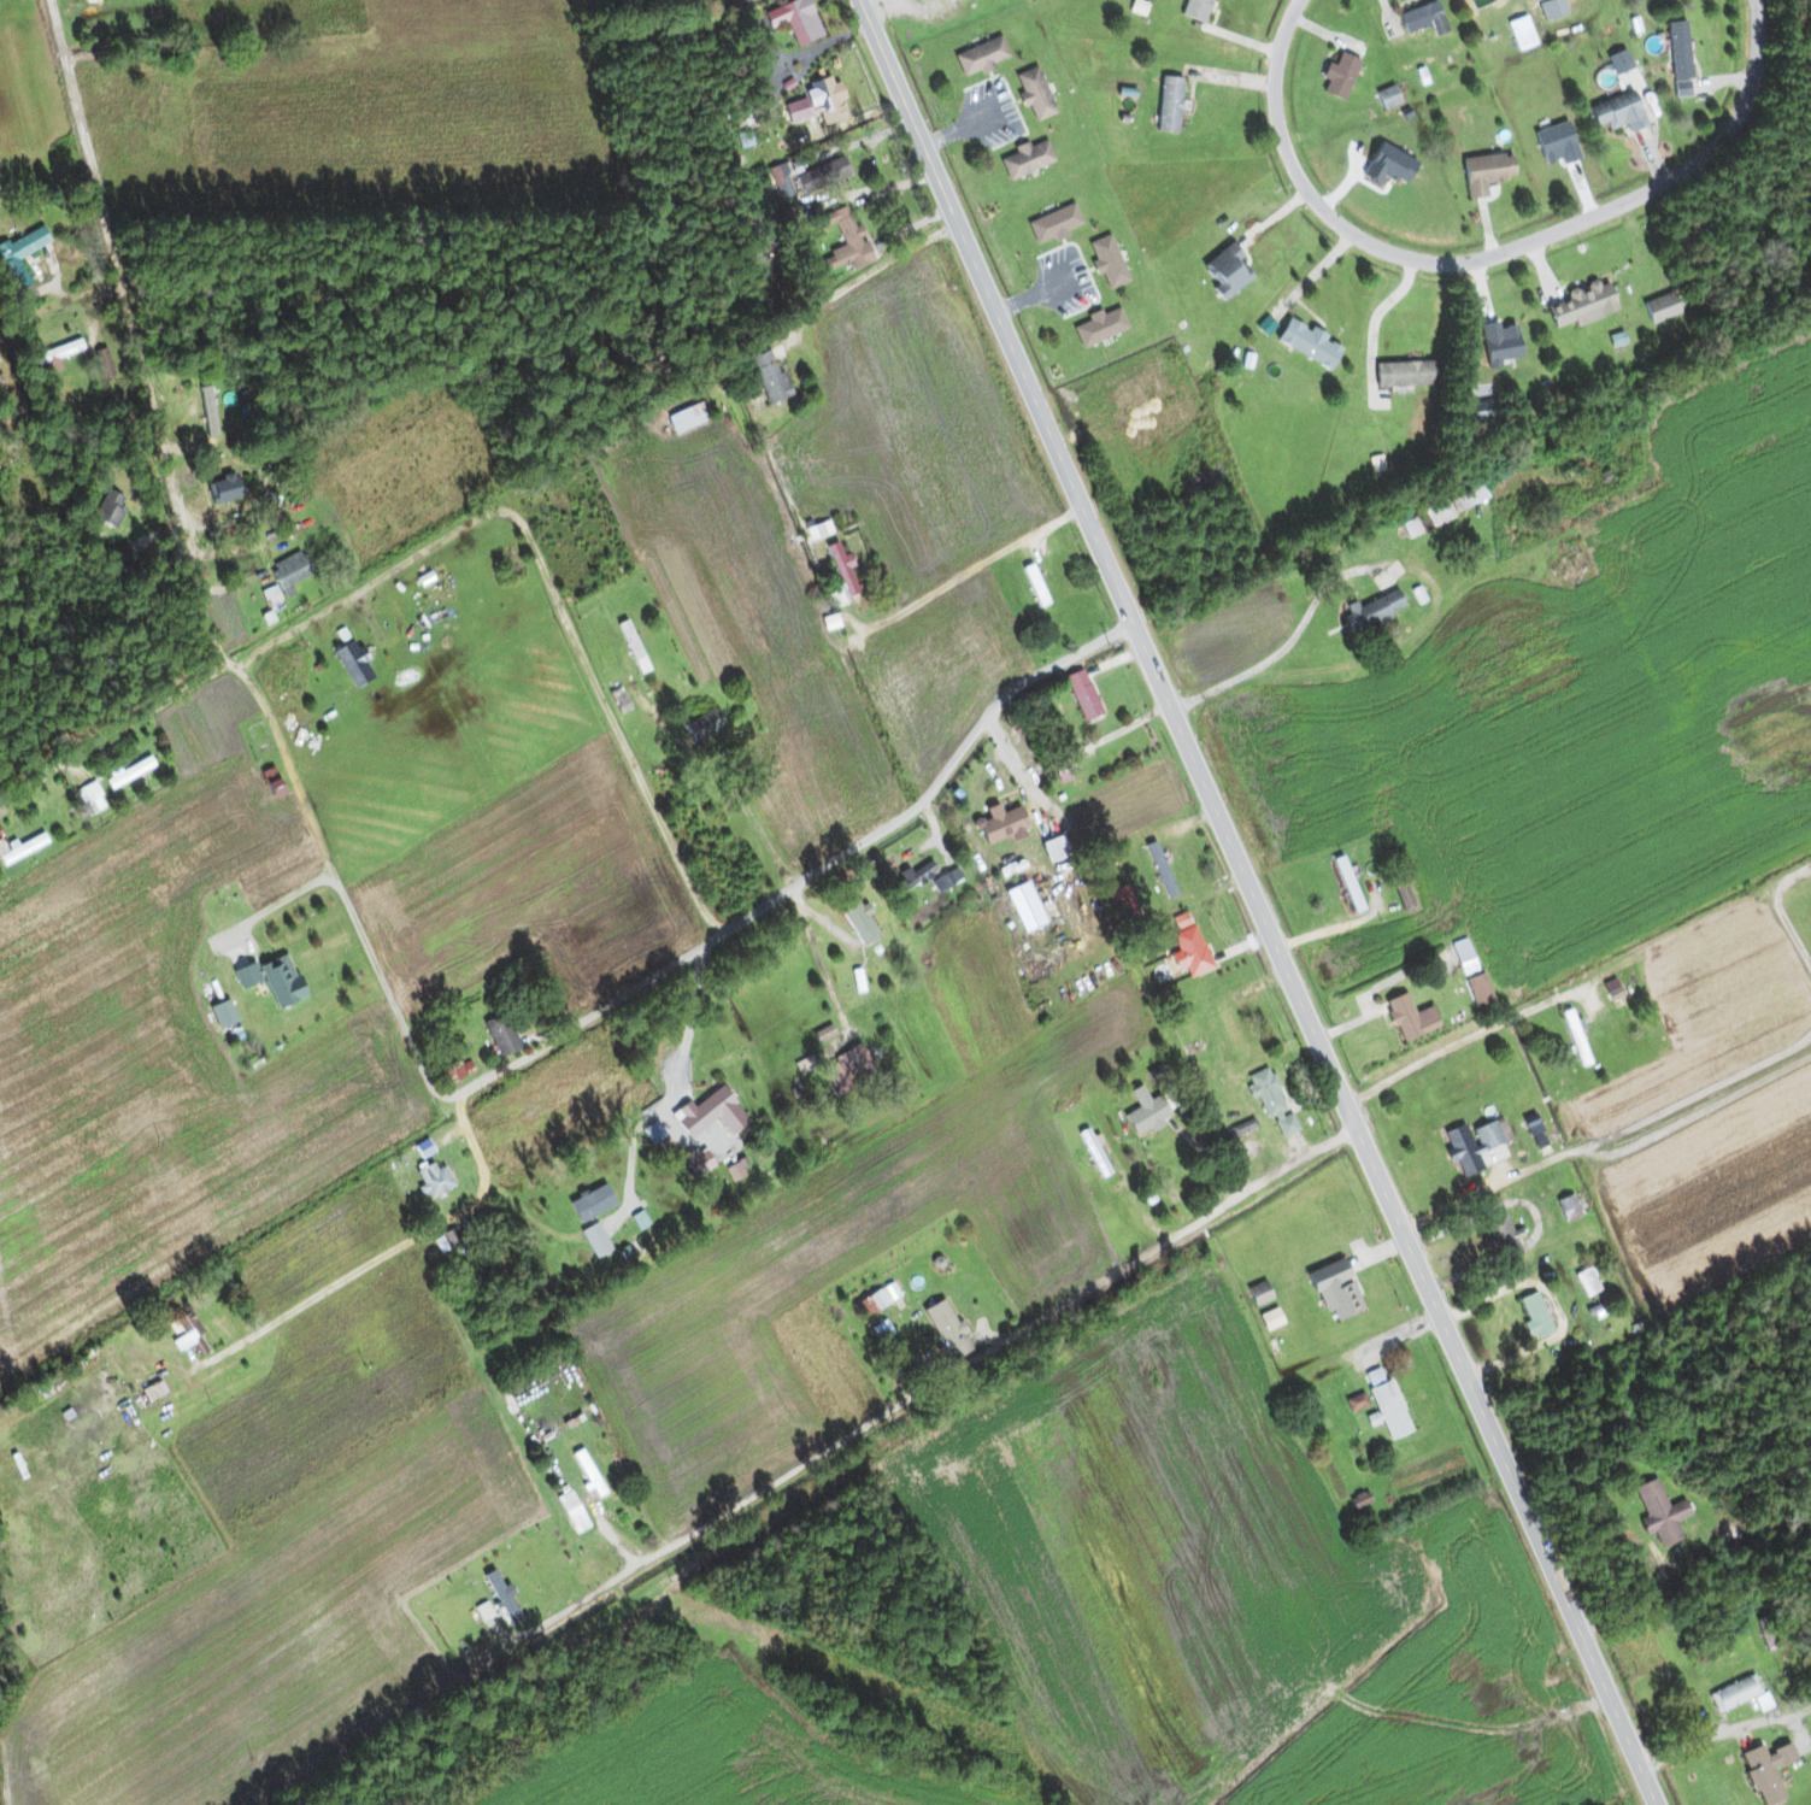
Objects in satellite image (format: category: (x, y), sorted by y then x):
building: (1476, 4)
building: (1196, 10)
building: (1423, 18)
building: (795, 20)
building: (1522, 34)
building: (1678, 51)
building: (981, 55)
building: (1340, 76)
building: (1035, 94)
building: (823, 95)
building: (1388, 98)
building: (1169, 104)
building: (1617, 113)
building: (1027, 159)
building: (1486, 172)
building: (822, 176)
building: (1054, 224)
building: (846, 243)
road: (1487, 255)
building: (1107, 261)
building: (10, 263)
building: (1227, 271)
building: (1583, 305)
building: (1662, 308)
road: (1375, 319)
building: (1099, 327)
road: (130, 331)
building: (1309, 343)
building: (102, 363)
building: (1405, 374)
building: (769, 376)
building: (210, 412)
building: (688, 418)
building: (8, 461)
building: (222, 487)
building: (1445, 510)
building: (106, 512)
building: (1574, 555)
building: (289, 569)
building: (842, 570)
road: (966, 571)
road: (540, 580)
building: (1036, 590)
building: (271, 596)
building: (1375, 611)
building: (633, 647)
building: (353, 664)
building: (1082, 695)
building: (618, 701)
building: (705, 727)
road: (111, 731)
building: (130, 772)
building: (88, 800)
building: (1000, 823)
building: (1054, 849)
building: (1154, 858)
building: (915, 877)
building: (951, 878)
road: (339, 883)
building: (1123, 896)
building: (1404, 898)
road: (1256, 902)
building: (859, 922)
building: (1189, 952)
building: (1471, 972)
building: (271, 978)
road: (1578, 983)
road: (616, 992)
building: (1613, 992)
building: (1410, 1018)
building: (501, 1035)
building: (824, 1035)
building: (1575, 1036)
building: (852, 1066)
building: (1272, 1104)
building: (1145, 1111)
building: (708, 1113)
building: (1487, 1136)
building: (1463, 1152)
building: (700, 1162)
building: (433, 1178)
building: (1569, 1209)
building: (1500, 1233)
building: (1587, 1283)
building: (1335, 1292)
building: (1260, 1297)
building: (876, 1300)
building: (1535, 1317)
building: (946, 1330)
building: (189, 1335)
building: (148, 1354)
building: (152, 1392)
building: (1357, 1403)
road: (888, 1411)
building: (1388, 1411)
building: (588, 1474)
building: (572, 1512)
building: (1659, 1512)
building: (601, 1564)
building: (1735, 1694)
road: (1723, 1729)
building: (1762, 1776)

